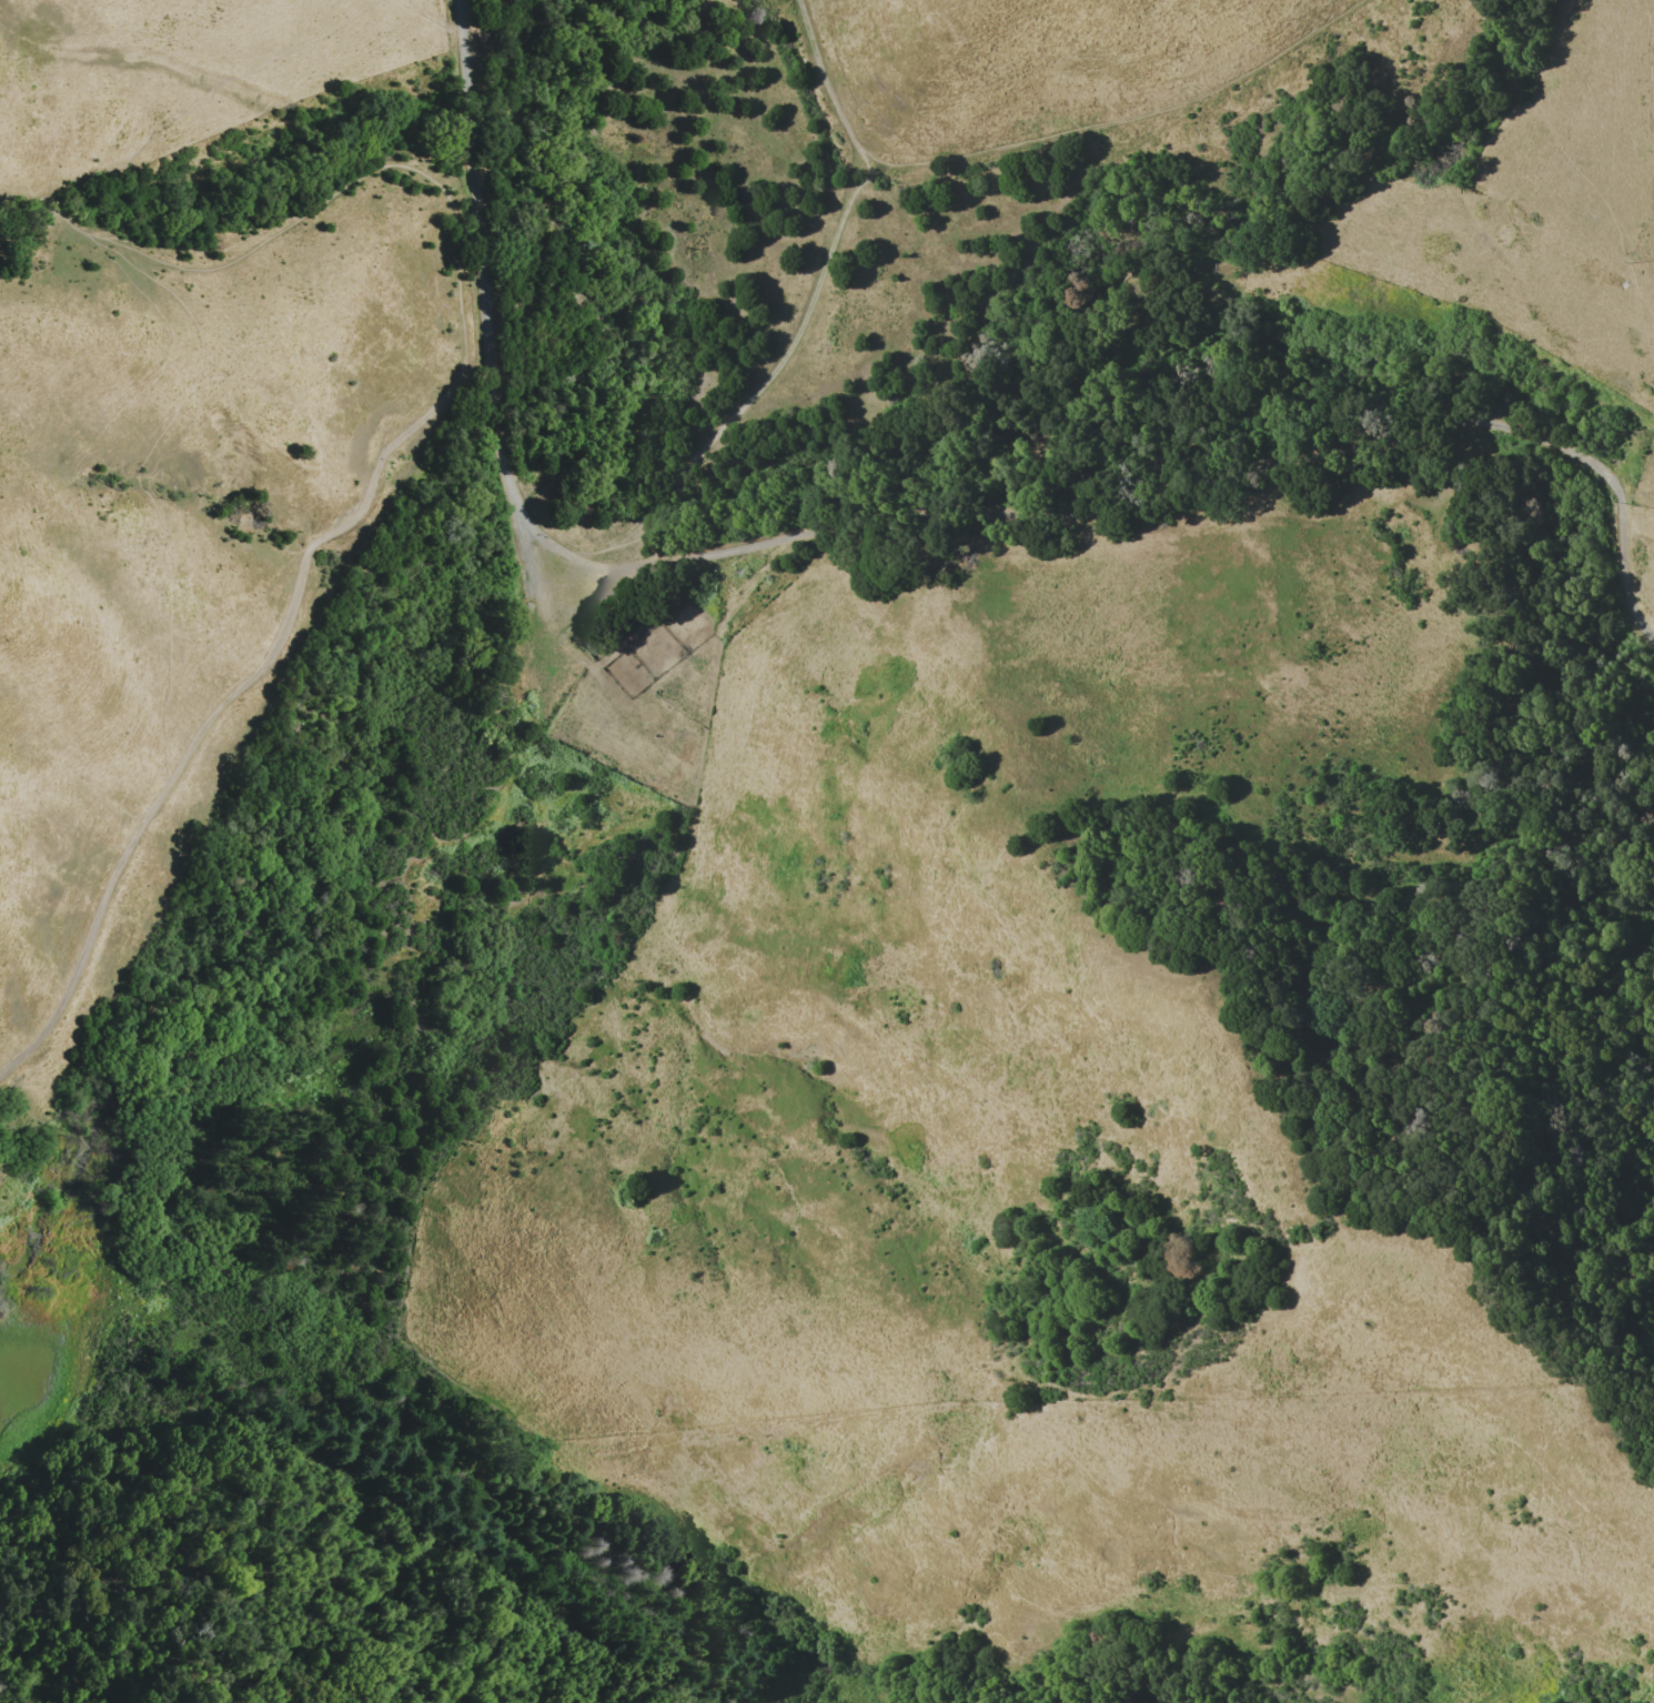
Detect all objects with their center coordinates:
road: (426, 17)
road: (827, 87)
road: (1122, 123)
road: (474, 177)
road: (311, 201)
road: (1183, 472)
road: (680, 476)
road: (230, 705)

